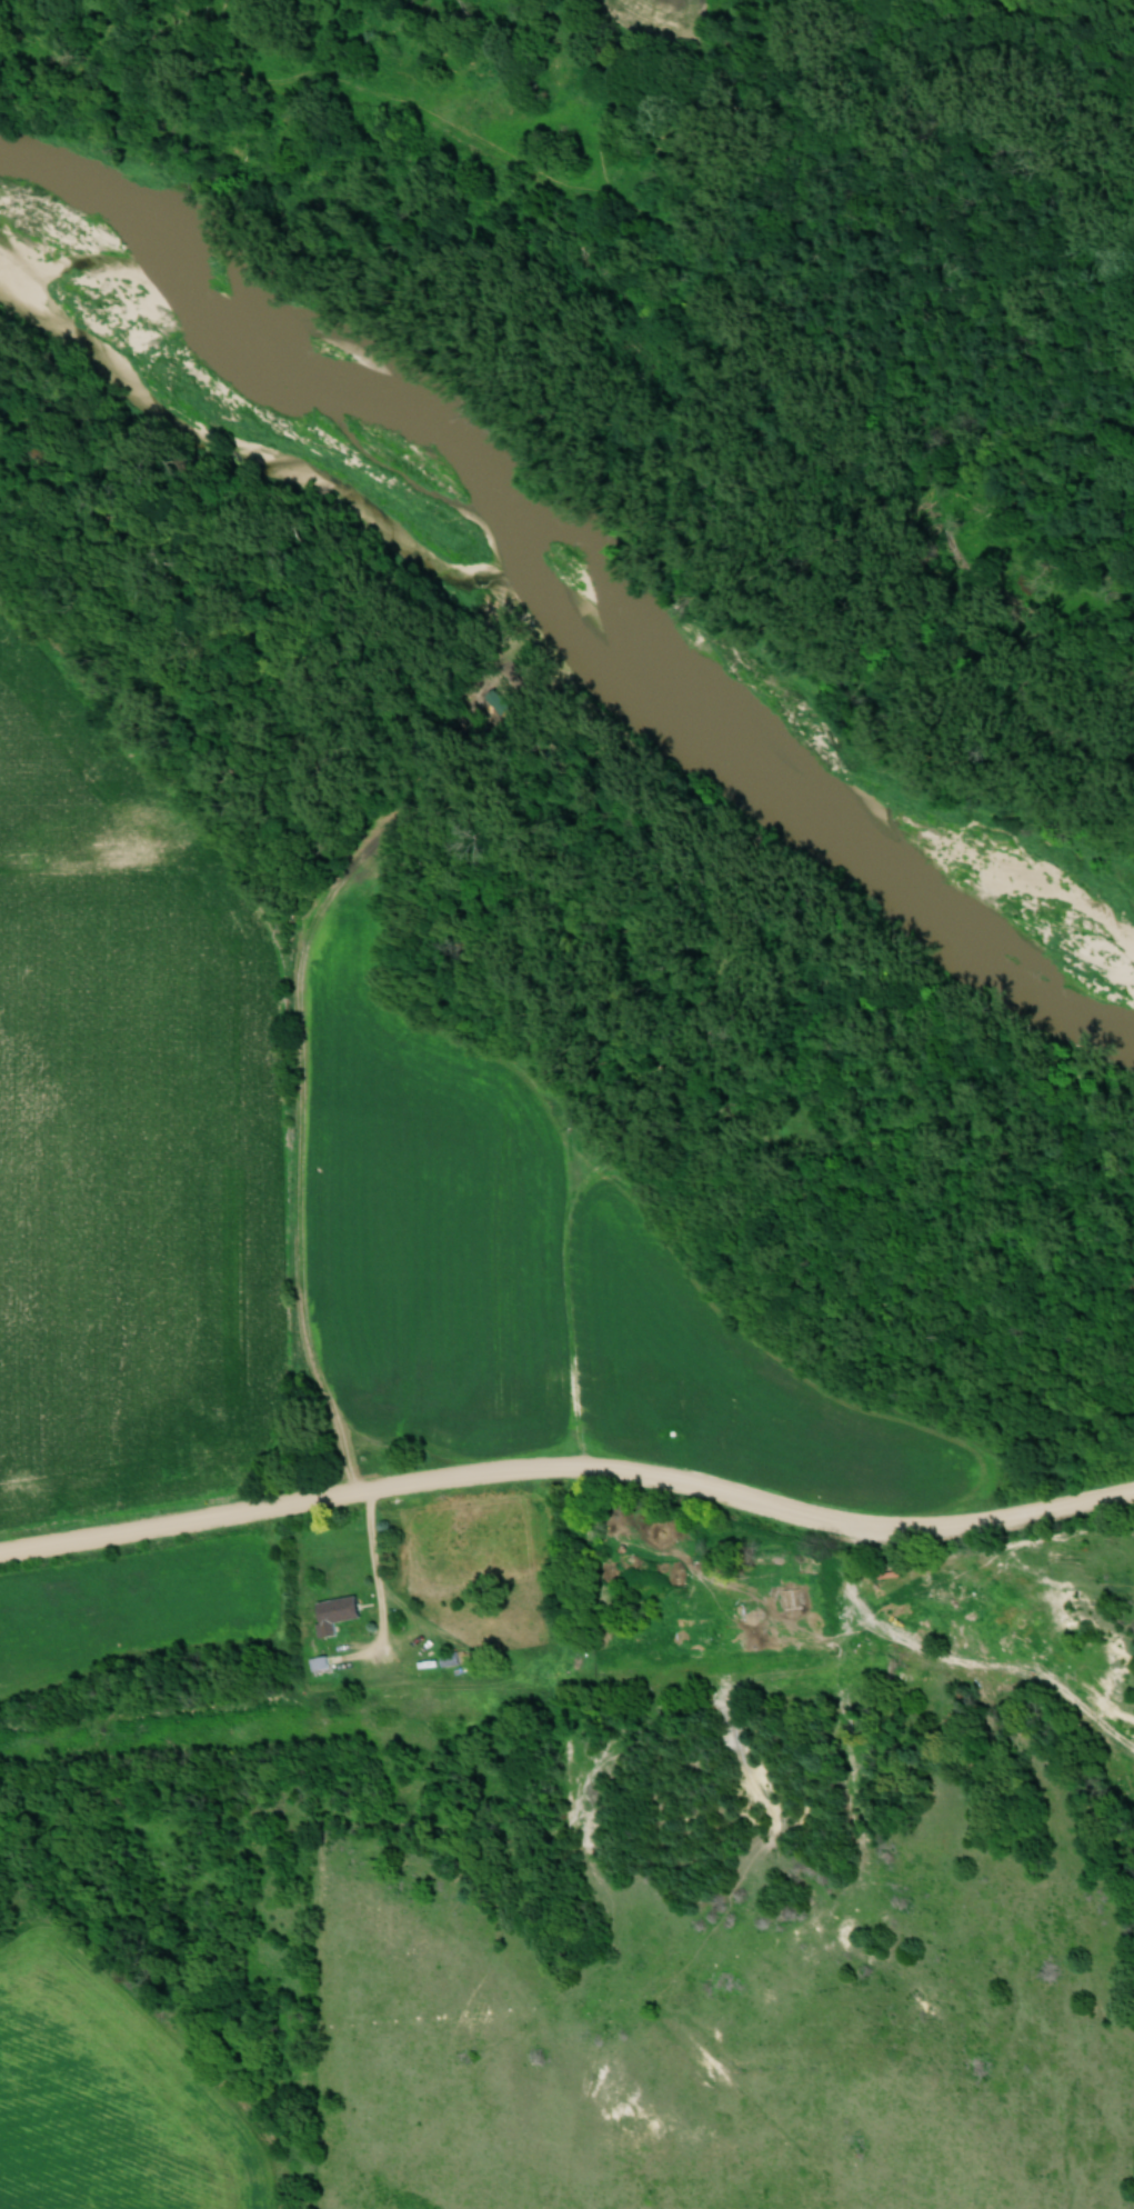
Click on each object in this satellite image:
crop: (664, 9)
river: (573, 609)
road: (570, 1471)
building: (586, 1537)
road: (375, 1572)
building: (335, 1613)
building: (449, 1658)
building: (318, 1663)

